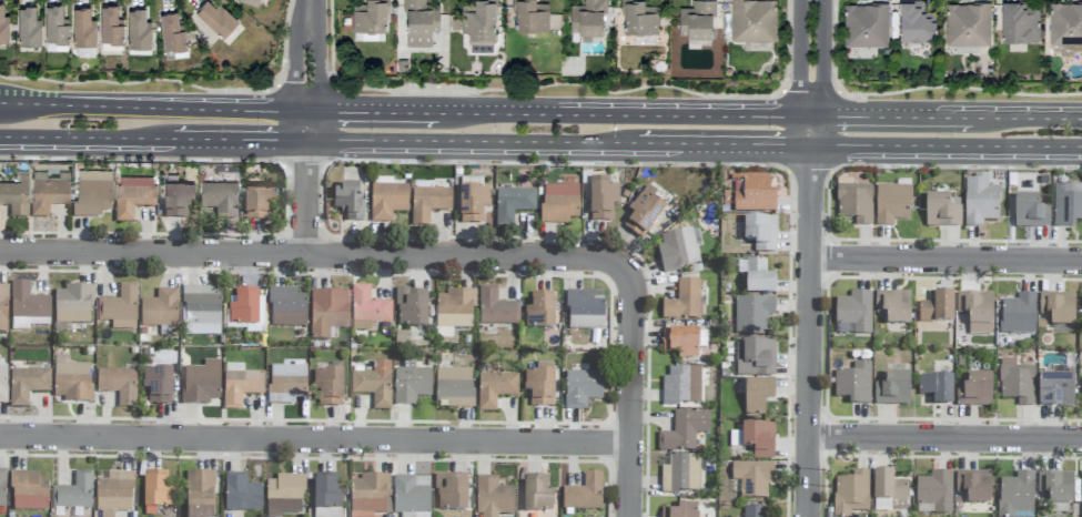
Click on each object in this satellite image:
building: (250, 1)
building: (368, 16)
building: (529, 16)
building: (638, 17)
building: (215, 18)
building: (587, 18)
building: (696, 19)
building: (752, 20)
building: (419, 22)
building: (1019, 22)
building: (913, 23)
building: (1064, 23)
building: (864, 24)
building: (967, 24)
building: (3, 26)
building: (28, 27)
building: (82, 27)
building: (478, 27)
building: (54, 28)
building: (110, 28)
building: (136, 29)
road: (292, 57)
road: (317, 57)
road: (798, 59)
road: (821, 59)
road: (153, 109)
road: (372, 112)
road: (623, 114)
road: (890, 118)
road: (1027, 119)
road: (306, 126)
road: (809, 131)
road: (88, 138)
road: (241, 140)
road: (473, 142)
road: (724, 145)
road: (946, 148)
building: (92, 193)
building: (752, 194)
building: (47, 195)
building: (133, 195)
building: (14, 197)
building: (219, 197)
building: (176, 199)
road: (306, 199)
building: (603, 199)
building: (387, 200)
building: (257, 202)
building: (348, 202)
building: (855, 202)
building: (980, 202)
building: (428, 204)
building: (473, 204)
building: (559, 204)
building: (892, 204)
building: (513, 205)
building: (1066, 205)
building: (941, 212)
building: (644, 213)
building: (1030, 213)
building: (760, 233)
building: (679, 250)
road: (305, 256)
road: (943, 260)
building: (759, 278)
building: (682, 302)
building: (73, 305)
building: (893, 306)
building: (286, 307)
building: (28, 308)
building: (120, 308)
building: (244, 308)
building: (412, 308)
building: (496, 308)
building: (1058, 308)
building: (3, 310)
building: (160, 310)
building: (367, 310)
building: (585, 310)
building: (937, 310)
building: (542, 311)
building: (201, 312)
building: (977, 312)
building: (327, 313)
building: (454, 313)
building: (853, 314)
building: (754, 315)
building: (1018, 315)
road: (807, 331)
building: (681, 343)
building: (755, 358)
road: (631, 382)
building: (72, 383)
building: (201, 383)
building: (1017, 383)
building: (286, 384)
building: (411, 384)
building: (540, 384)
building: (855, 384)
building: (2, 385)
building: (27, 385)
building: (119, 385)
building: (158, 385)
building: (240, 385)
building: (374, 385)
building: (681, 386)
building: (328, 387)
building: (455, 387)
building: (494, 387)
building: (582, 388)
building: (937, 388)
building: (893, 389)
building: (1055, 391)
building: (974, 392)
building: (757, 396)
building: (684, 432)
building: (755, 439)
road: (944, 439)
road: (315, 442)
building: (679, 474)
building: (752, 479)
building: (974, 486)
building: (1056, 487)
building: (2, 488)
building: (29, 491)
building: (889, 491)
building: (74, 493)
building: (114, 493)
building: (156, 493)
building: (451, 493)
building: (200, 494)
building: (241, 494)
building: (536, 494)
building: (584, 494)
building: (851, 494)
building: (934, 494)
building: (1081, 494)
building: (284, 495)
building: (412, 495)
building: (327, 496)
building: (368, 496)
building: (1017, 496)
building: (493, 498)
building: (681, 510)
building: (754, 511)
building: (414, 515)

